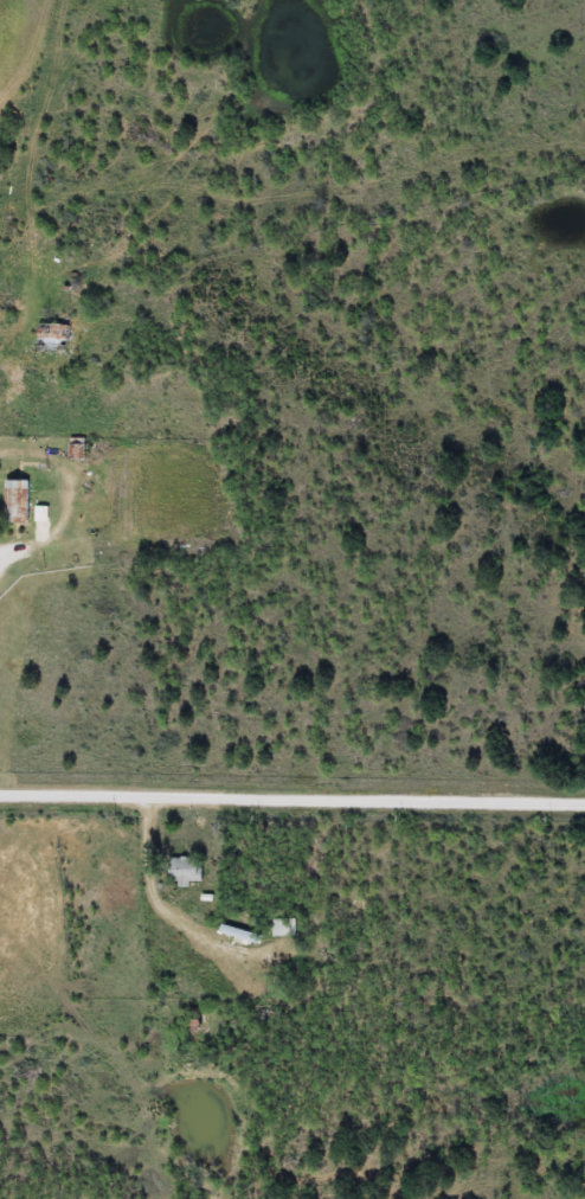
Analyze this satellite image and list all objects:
building: (50, 339)
building: (17, 501)
road: (291, 800)
building: (185, 871)
building: (283, 928)
building: (240, 935)

